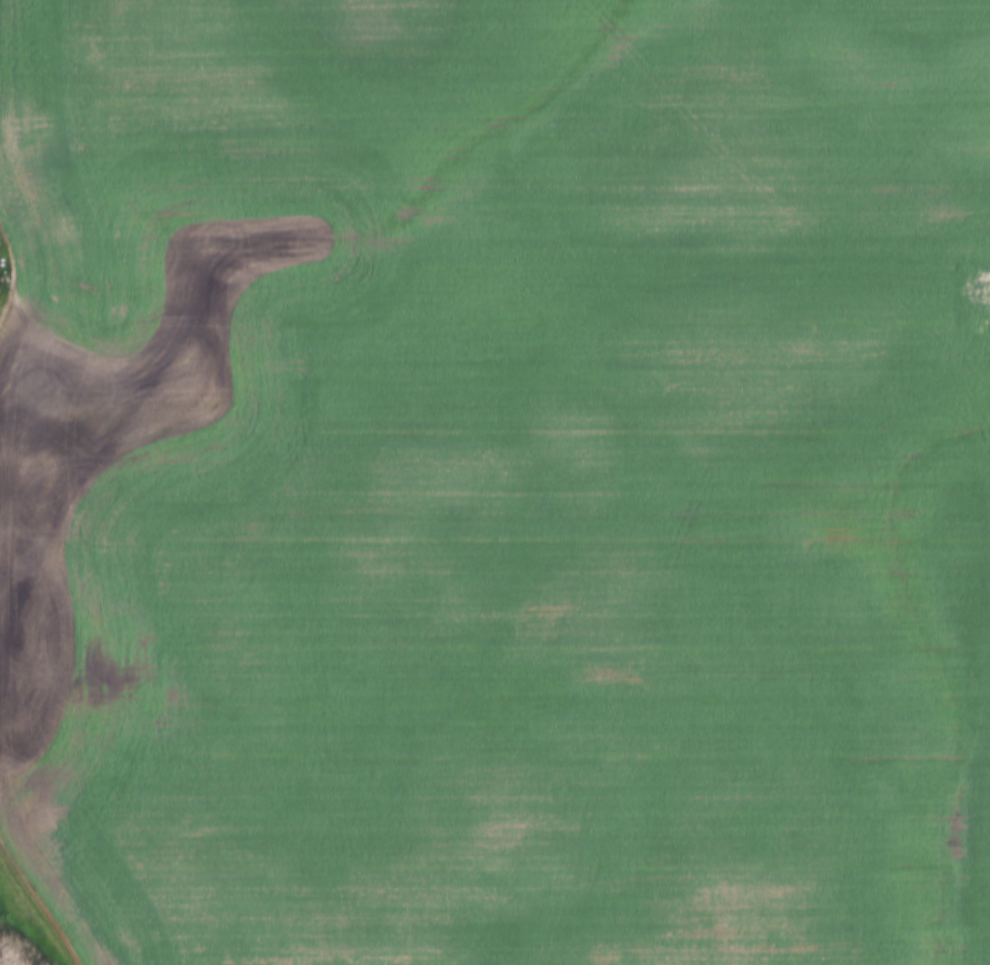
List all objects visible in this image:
road: (43, 902)

